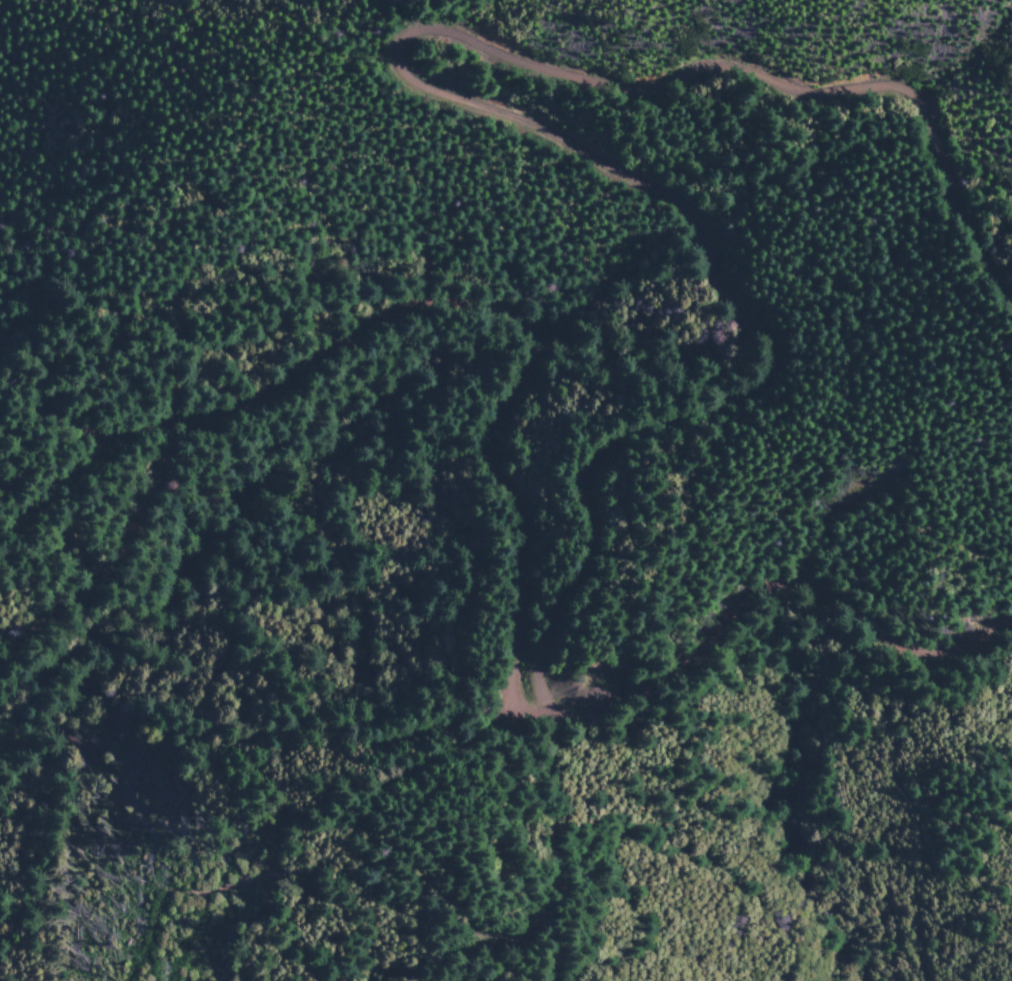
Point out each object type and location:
road: (558, 321)

